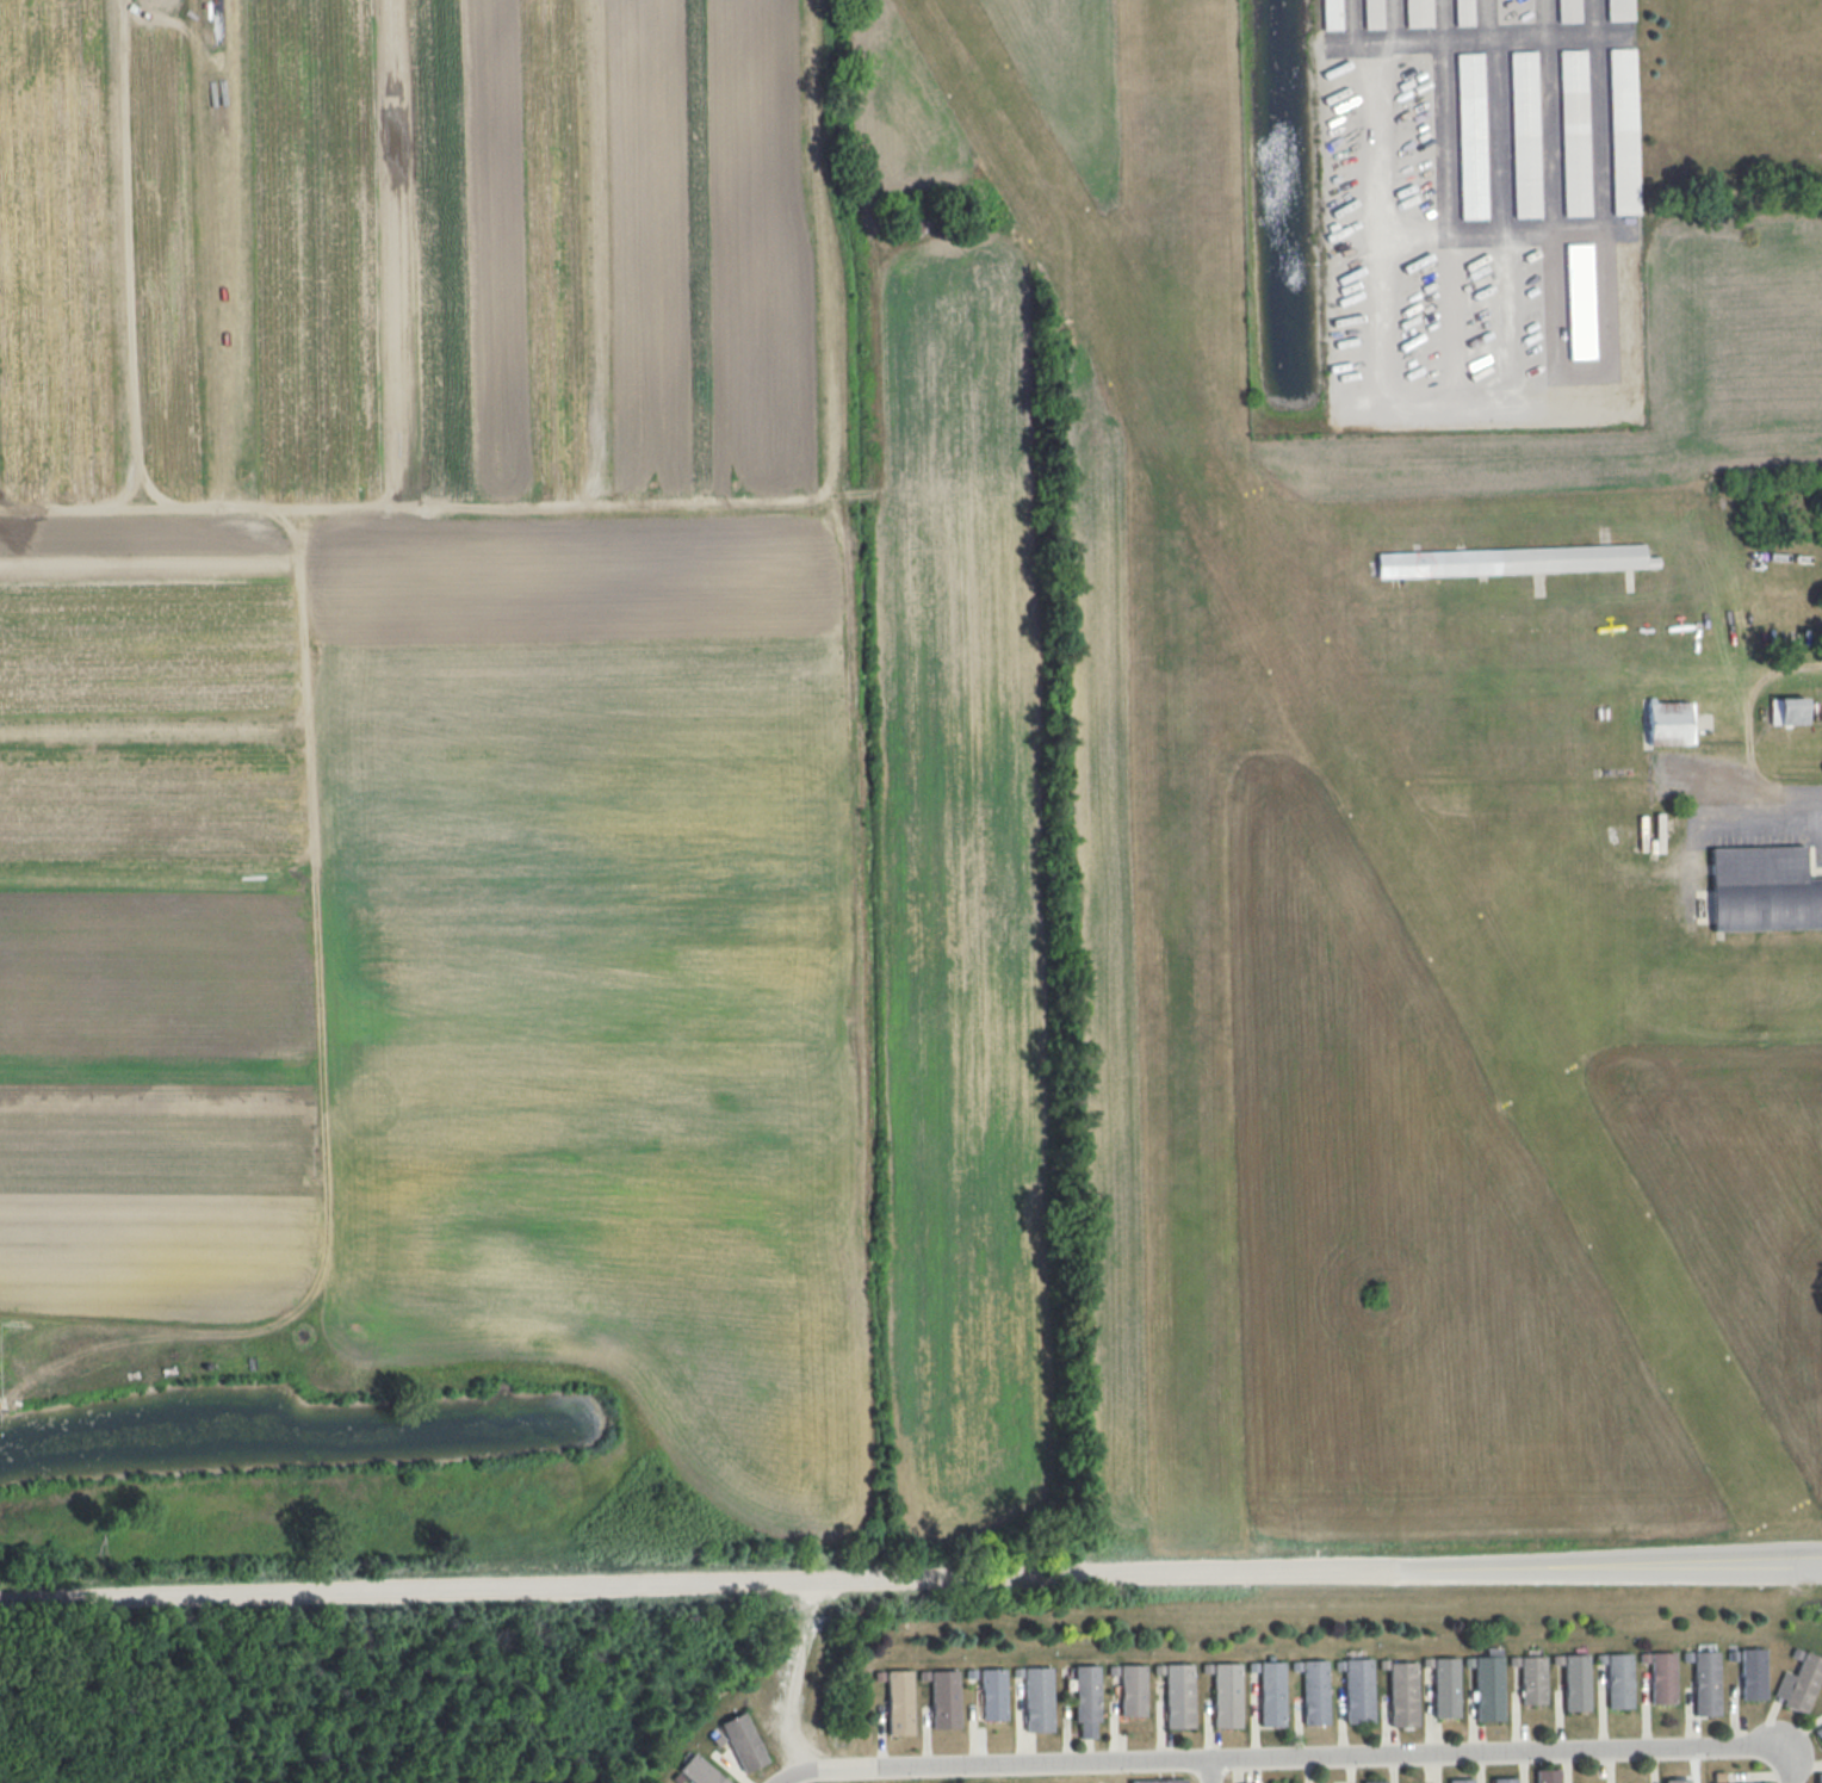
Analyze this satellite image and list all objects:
building: (1619, 10)
building: (1567, 11)
building: (1463, 12)
building: (1371, 13)
building: (1418, 13)
building: (1331, 14)
road: (1345, 21)
road: (1487, 39)
building: (1623, 131)
building: (1574, 132)
building: (1524, 134)
building: (1471, 136)
road: (1524, 224)
road: (825, 244)
building: (1580, 301)
road: (491, 500)
building: (1514, 559)
building: (1787, 711)
road: (1749, 717)
building: (1668, 723)
airport runway: (1353, 759)
airport runway: (1180, 772)
road: (1766, 811)
building: (1657, 840)
building: (1762, 889)
airport: (1387, 893)
road: (1606, 1567)
road: (695, 1585)
building: (1753, 1673)
road: (793, 1677)
building: (1662, 1677)
building: (1532, 1679)
building: (1618, 1680)
building: (1575, 1682)
building: (1705, 1683)
building: (1799, 1683)
building: (1488, 1685)
building: (1444, 1686)
building: (1132, 1689)
building: (1314, 1691)
building: (992, 1694)
building: (1271, 1694)
building: (1402, 1694)
building: (1178, 1695)
building: (1226, 1695)
building: (944, 1698)
building: (1037, 1698)
building: (1086, 1700)
building: (899, 1702)
building: (1818, 1731)
building: (743, 1741)
road: (1276, 1756)
road: (1786, 1764)
road: (1209, 1770)
building: (700, 1771)
building: (1547, 1776)
building: (1818, 1777)
building: (1504, 1779)
building: (1159, 1781)
building: (1374, 1781)
building: (1461, 1781)
building: (1677, 1781)
building: (1764, 1782)

